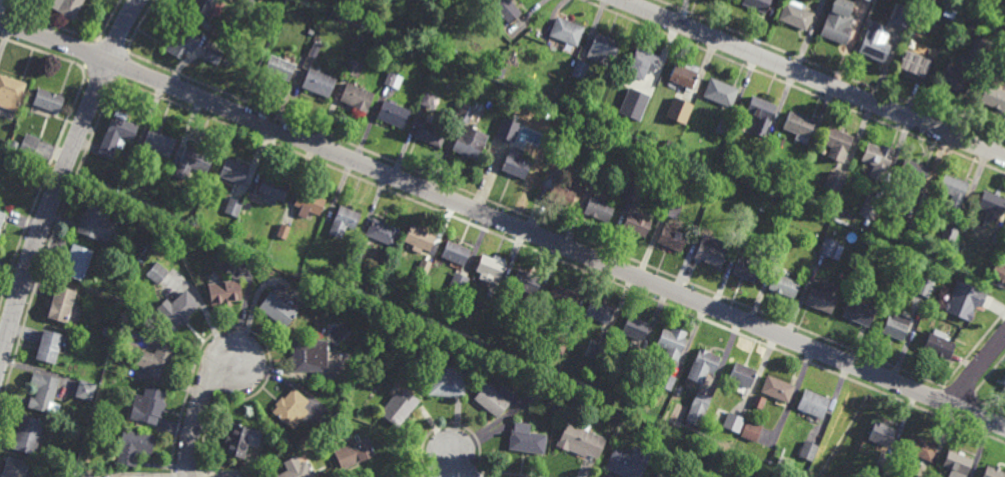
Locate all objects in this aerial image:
building: (871, 0)
building: (757, 4)
building: (204, 6)
building: (65, 7)
building: (392, 8)
building: (507, 10)
building: (348, 12)
building: (796, 15)
building: (902, 16)
building: (839, 22)
building: (219, 32)
building: (310, 32)
building: (568, 32)
building: (178, 42)
building: (603, 49)
building: (875, 49)
building: (314, 50)
building: (449, 51)
building: (214, 55)
building: (398, 62)
building: (642, 64)
building: (914, 64)
building: (280, 68)
building: (354, 69)
building: (581, 70)
building: (685, 75)
road: (813, 78)
building: (955, 79)
building: (663, 81)
building: (391, 82)
building: (318, 83)
building: (642, 91)
building: (11, 92)
building: (720, 92)
building: (993, 97)
building: (357, 98)
building: (49, 100)
building: (429, 100)
building: (661, 101)
building: (633, 104)
building: (680, 110)
building: (393, 114)
building: (465, 114)
building: (761, 114)
building: (723, 126)
building: (799, 126)
building: (508, 130)
building: (430, 134)
building: (117, 135)
building: (30, 143)
building: (470, 143)
building: (159, 144)
building: (838, 144)
building: (671, 145)
building: (12, 150)
building: (878, 160)
building: (195, 162)
building: (516, 164)
building: (560, 165)
building: (913, 170)
building: (235, 172)
building: (599, 172)
building: (113, 174)
road: (61, 177)
building: (834, 181)
building: (757, 182)
building: (129, 183)
building: (273, 190)
building: (953, 190)
building: (635, 191)
building: (674, 191)
building: (563, 196)
building: (308, 205)
building: (760, 205)
building: (991, 205)
building: (870, 207)
building: (234, 208)
building: (600, 208)
building: (671, 210)
building: (158, 213)
building: (274, 217)
building: (2, 219)
building: (96, 223)
building: (344, 223)
road: (503, 223)
building: (637, 224)
building: (908, 227)
building: (283, 233)
building: (383, 233)
building: (949, 233)
building: (0, 235)
building: (420, 239)
building: (672, 239)
building: (784, 240)
building: (830, 249)
building: (358, 251)
building: (711, 251)
building: (455, 254)
building: (779, 254)
building: (77, 263)
building: (491, 267)
building: (422, 270)
building: (746, 271)
building: (999, 272)
building: (158, 274)
building: (526, 282)
building: (458, 283)
building: (785, 286)
building: (923, 286)
building: (228, 295)
building: (823, 297)
building: (564, 298)
building: (966, 300)
building: (62, 306)
building: (179, 312)
building: (277, 312)
building: (598, 312)
building: (858, 313)
building: (897, 327)
building: (633, 328)
building: (107, 333)
building: (672, 342)
building: (559, 345)
building: (939, 345)
building: (50, 350)
building: (597, 352)
building: (308, 355)
building: (159, 362)
building: (703, 365)
building: (631, 366)
road: (977, 370)
building: (547, 373)
building: (742, 375)
building: (666, 381)
building: (1004, 381)
building: (447, 383)
building: (87, 387)
building: (1004, 388)
building: (777, 389)
building: (45, 391)
building: (563, 391)
building: (677, 391)
building: (494, 398)
building: (758, 402)
building: (150, 403)
building: (701, 403)
building: (813, 404)
building: (290, 407)
building: (399, 407)
building: (343, 408)
road: (198, 412)
building: (94, 421)
building: (732, 423)
building: (751, 431)
building: (28, 432)
building: (882, 434)
building: (237, 438)
building: (526, 438)
building: (581, 440)
building: (135, 444)
building: (920, 447)
building: (808, 451)
building: (352, 453)
building: (628, 462)
road: (453, 463)
building: (956, 463)
building: (15, 467)
building: (697, 468)
building: (297, 471)
building: (881, 471)
building: (993, 471)
building: (90, 474)
building: (659, 475)
building: (128, 476)

